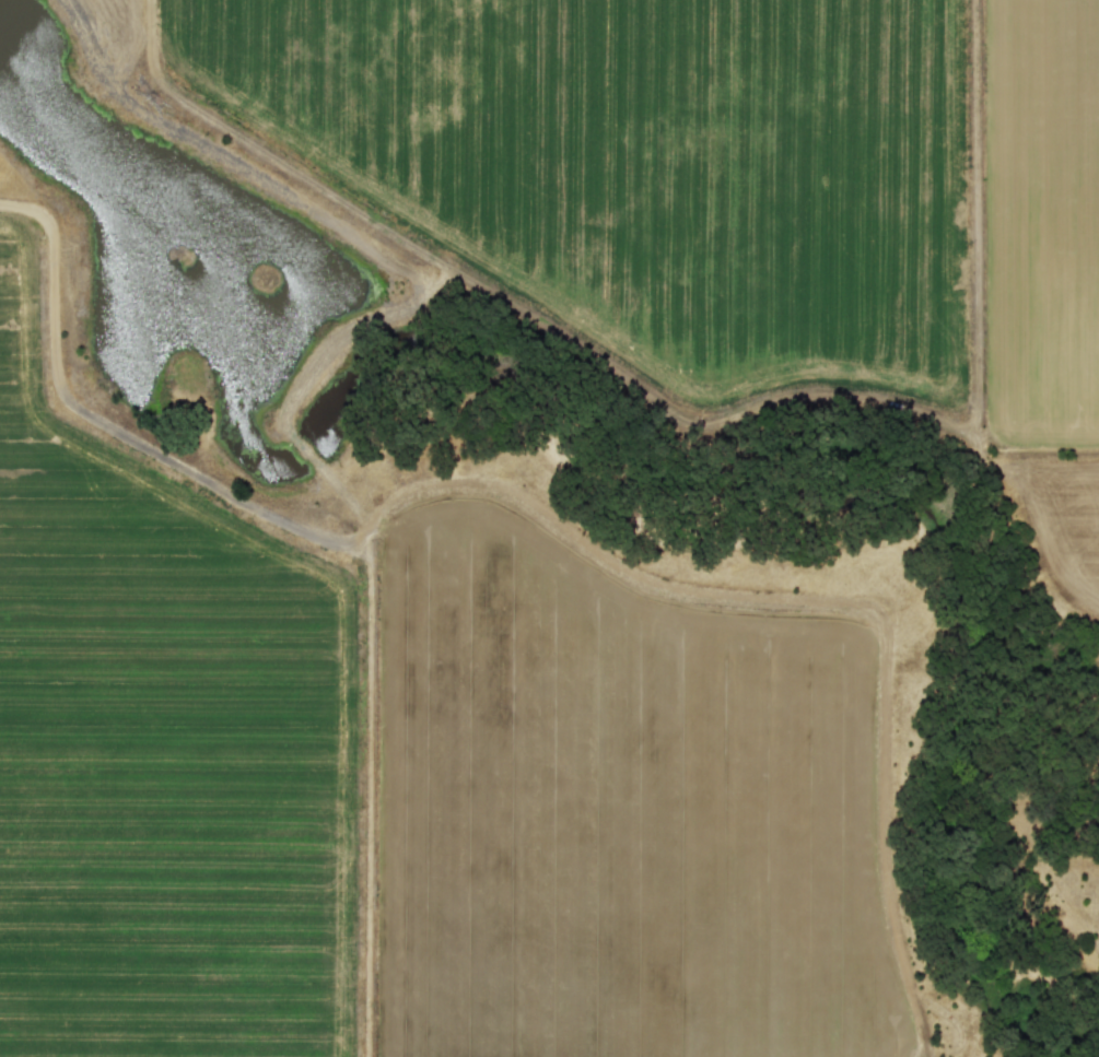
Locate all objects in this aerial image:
crop: (720, 161)
crop: (411, 766)

